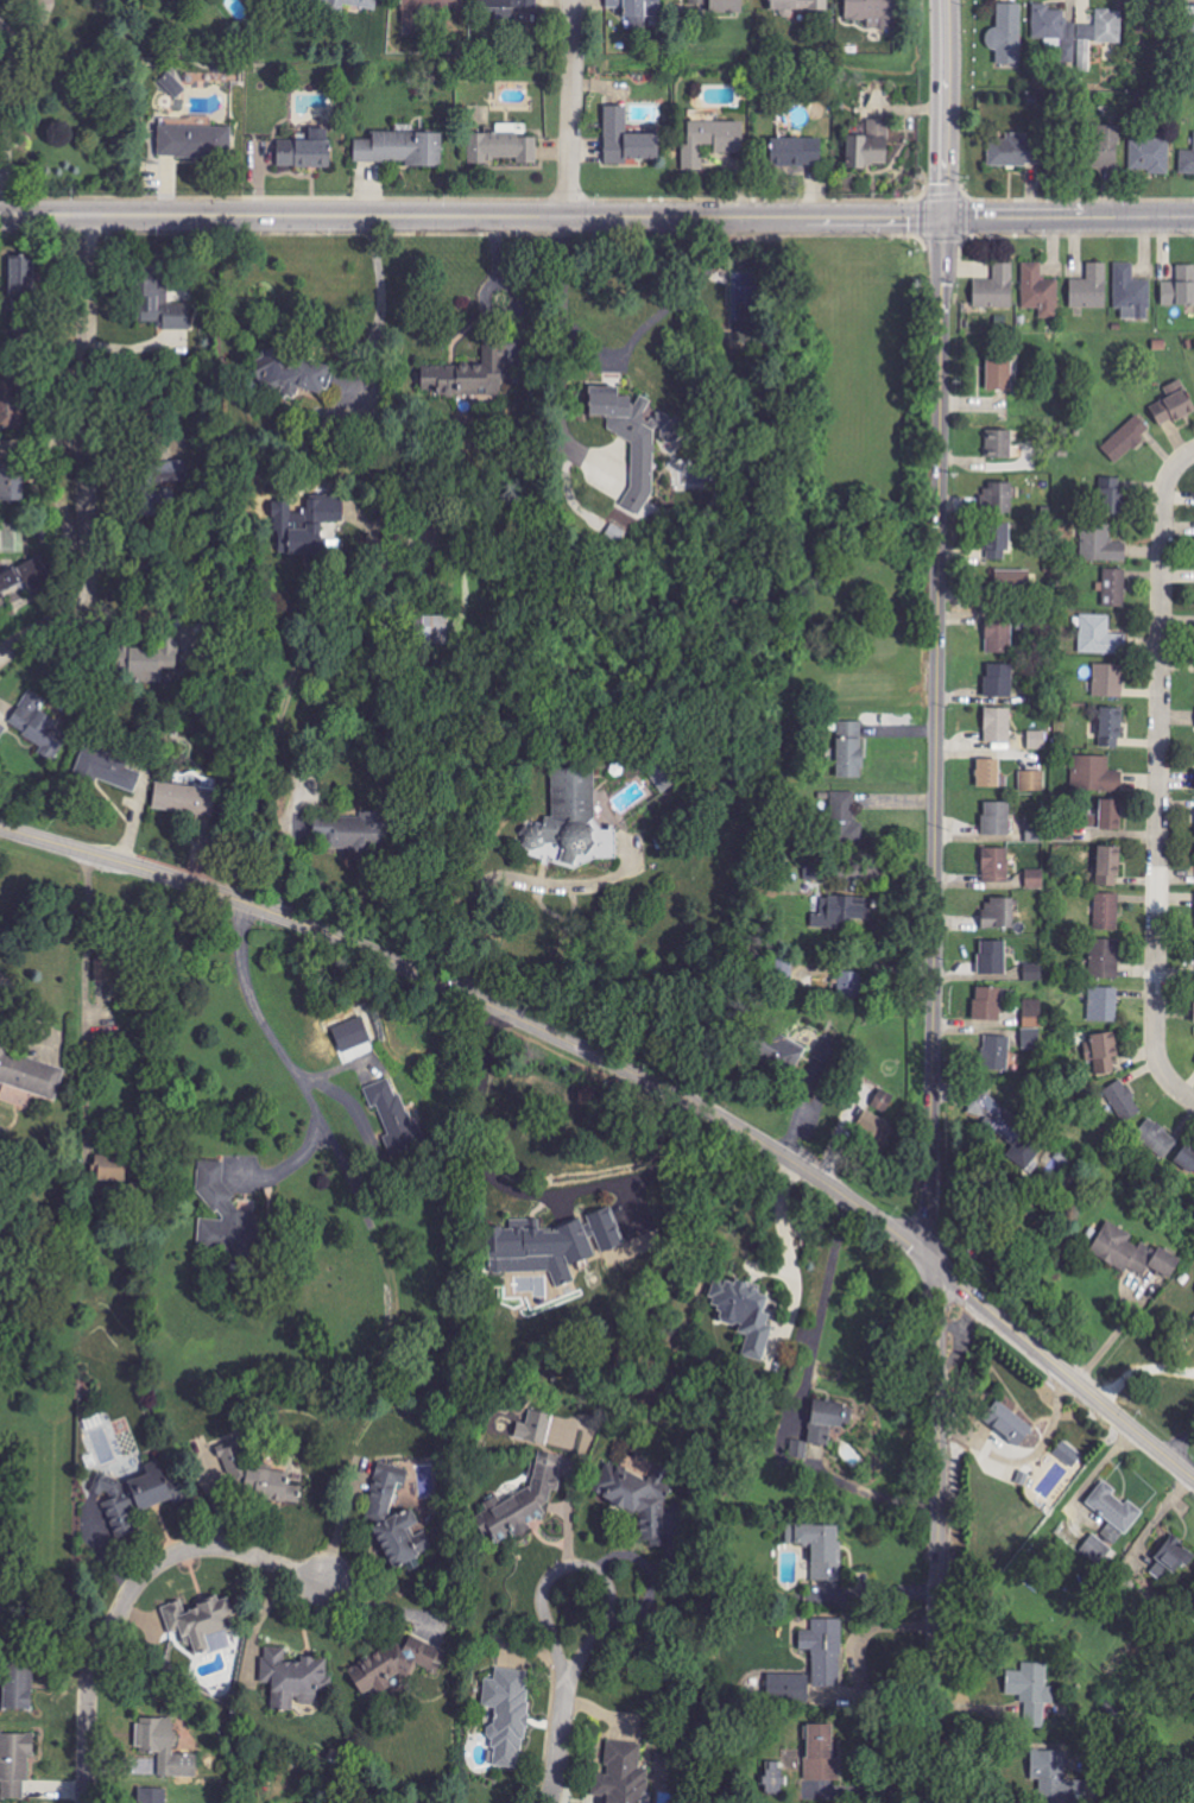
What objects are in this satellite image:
building: (507, 5)
building: (800, 5)
building: (726, 6)
building: (637, 7)
building: (427, 10)
building: (873, 13)
building: (1048, 21)
building: (1007, 33)
building: (1099, 34)
building: (173, 84)
road: (0, 88)
road: (570, 109)
road: (945, 109)
road: (1, 124)
building: (194, 138)
building: (626, 139)
building: (710, 140)
building: (503, 145)
building: (870, 145)
building: (1107, 146)
building: (402, 147)
building: (305, 150)
building: (1013, 150)
building: (796, 151)
building: (1150, 156)
building: (1188, 163)
road: (470, 217)
road: (1068, 219)
traffic signals: (942, 220)
road: (492, 248)
building: (21, 274)
building: (1091, 287)
building: (1180, 287)
building: (996, 289)
building: (1040, 291)
building: (1131, 292)
road: (377, 295)
building: (158, 298)
road: (492, 311)
road: (513, 327)
road: (619, 347)
building: (999, 372)
building: (289, 373)
building: (468, 377)
building: (10, 404)
building: (1174, 404)
building: (634, 436)
building: (1126, 438)
building: (1002, 445)
building: (8, 449)
road: (1188, 456)
road: (87, 460)
building: (11, 486)
building: (157, 487)
building: (1112, 495)
building: (998, 498)
building: (304, 524)
building: (997, 542)
building: (1100, 544)
building: (1012, 580)
building: (23, 581)
building: (1114, 588)
building: (435, 630)
building: (998, 634)
building: (1100, 635)
building: (154, 662)
building: (1108, 679)
building: (999, 681)
road: (279, 709)
building: (38, 722)
building: (997, 725)
building: (1111, 727)
road: (937, 736)
building: (1037, 740)
building: (849, 749)
road: (1158, 764)
building: (107, 768)
building: (661, 773)
building: (990, 774)
building: (1094, 774)
building: (1031, 780)
building: (184, 798)
building: (845, 814)
building: (1107, 816)
building: (996, 820)
building: (571, 824)
building: (354, 831)
building: (1035, 833)
building: (996, 865)
building: (1108, 866)
building: (1035, 879)
road: (468, 910)
building: (844, 911)
building: (1106, 911)
building: (998, 913)
building: (992, 959)
building: (1106, 959)
building: (106, 972)
building: (1032, 972)
building: (848, 983)
road: (479, 1001)
building: (987, 1004)
road: (81, 1005)
building: (1104, 1005)
road: (31, 1010)
building: (1032, 1013)
building: (829, 1050)
building: (786, 1052)
building: (996, 1052)
building: (1103, 1054)
building: (30, 1075)
road: (1176, 1088)
building: (1123, 1102)
building: (887, 1103)
building: (996, 1111)
building: (394, 1116)
road: (324, 1128)
building: (876, 1130)
building: (1157, 1138)
road: (665, 1152)
building: (1186, 1163)
building: (110, 1169)
building: (226, 1215)
road: (778, 1215)
building: (550, 1244)
building: (1132, 1254)
road: (820, 1309)
building: (745, 1315)
building: (1192, 1324)
road: (1108, 1334)
road: (1057, 1367)
road: (1139, 1371)
building: (828, 1421)
building: (1009, 1424)
building: (535, 1429)
building: (1066, 1455)
building: (230, 1462)
building: (273, 1486)
building: (133, 1498)
building: (638, 1499)
building: (522, 1504)
building: (1114, 1508)
building: (396, 1519)
road: (939, 1535)
building: (820, 1549)
building: (1097, 1549)
building: (1175, 1556)
road: (570, 1567)
road: (131, 1594)
building: (201, 1625)
building: (825, 1651)
building: (388, 1668)
building: (292, 1678)
building: (18, 1687)
building: (801, 1687)
building: (1032, 1691)
building: (507, 1717)
building: (157, 1736)
road: (560, 1740)
building: (821, 1752)
building: (15, 1763)
building: (623, 1774)
building: (773, 1776)
building: (1055, 1778)
building: (152, 1795)

